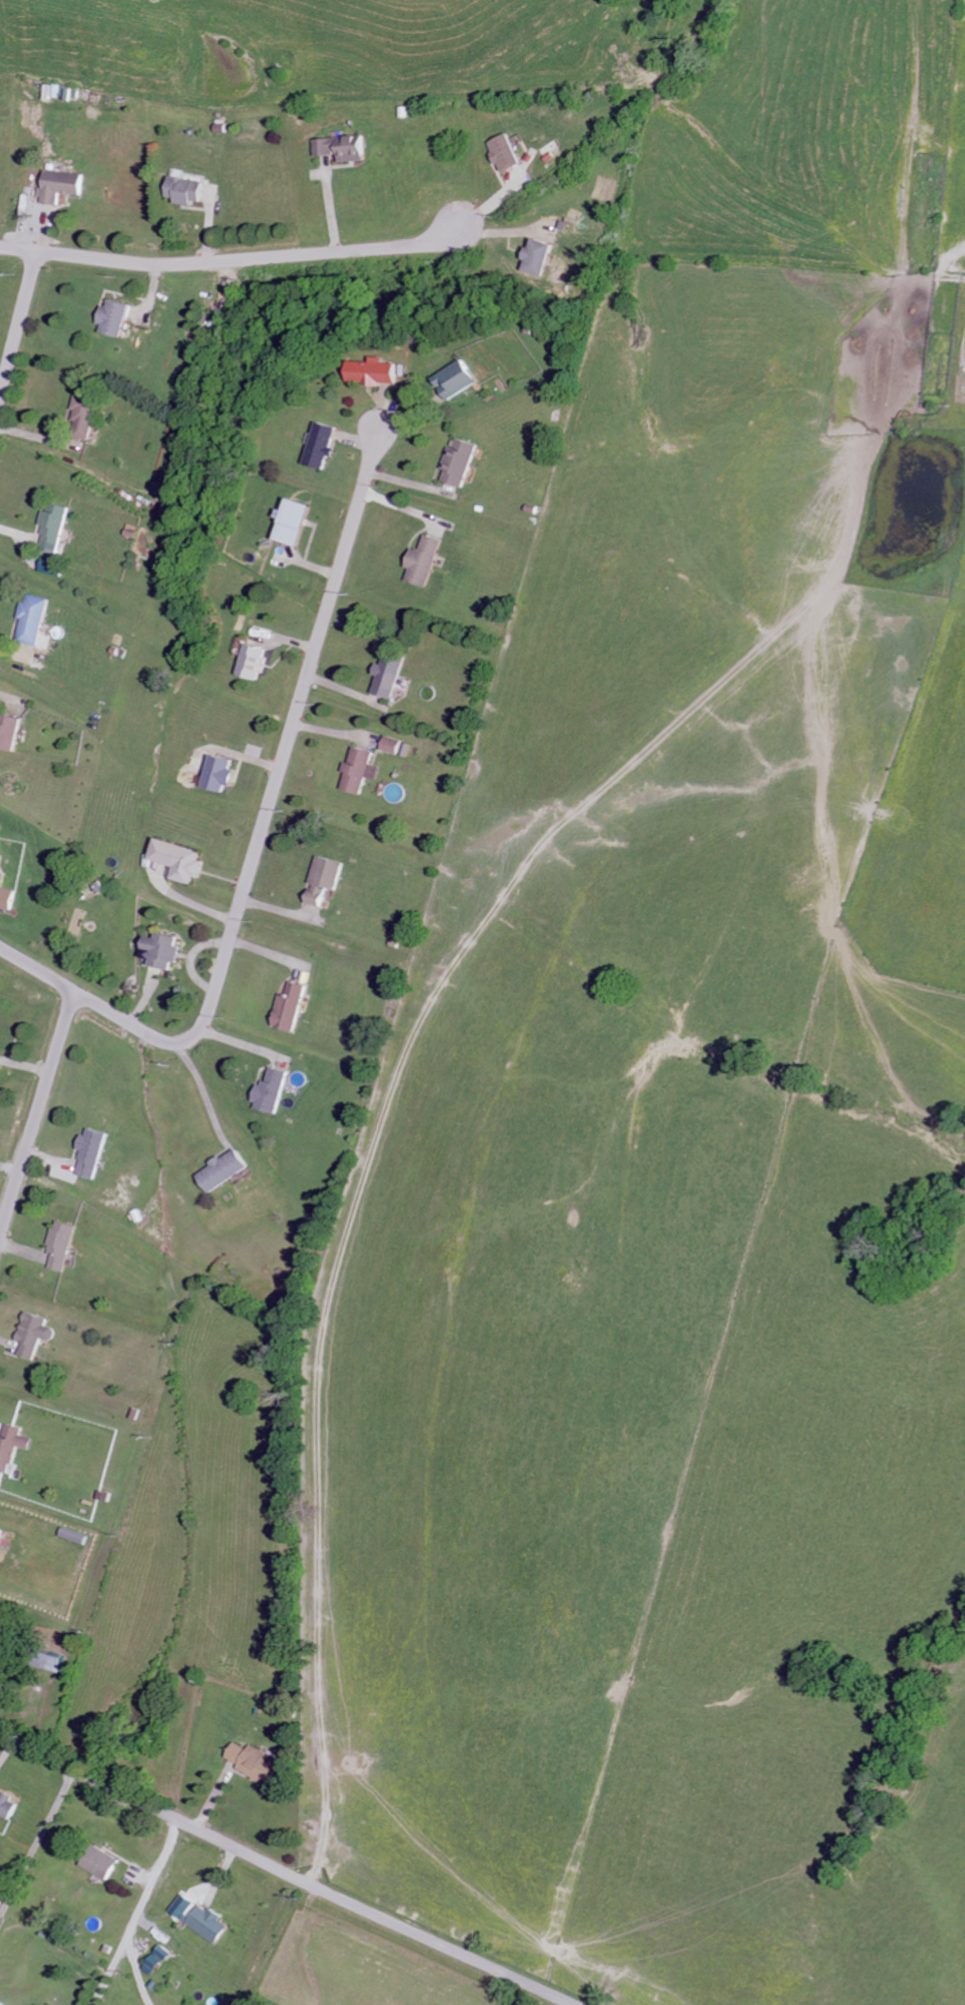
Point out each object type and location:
building: (342, 147)
building: (504, 152)
building: (60, 186)
building: (185, 190)
road: (898, 205)
building: (540, 257)
road: (240, 260)
building: (114, 318)
road: (17, 323)
building: (377, 372)
building: (458, 380)
building: (84, 414)
building: (324, 446)
building: (459, 462)
building: (296, 522)
building: (53, 528)
building: (424, 561)
building: (33, 620)
building: (254, 660)
building: (389, 675)
road: (11, 697)
building: (10, 733)
building: (393, 745)
building: (361, 771)
building: (222, 774)
road: (261, 834)
building: (181, 860)
building: (325, 880)
building: (5, 896)
building: (163, 951)
building: (290, 1008)
road: (204, 1088)
building: (271, 1092)
road: (37, 1113)
building: (92, 1151)
building: (224, 1170)
building: (61, 1244)
building: (34, 1334)
building: (12, 1446)
building: (1, 1533)
building: (50, 1661)
building: (252, 1762)
building: (8, 1806)
road: (36, 1841)
building: (102, 1863)
road: (285, 1872)
building: (2, 1898)
road: (136, 1913)
building: (200, 1918)
building: (158, 1960)
building: (34, 2004)

